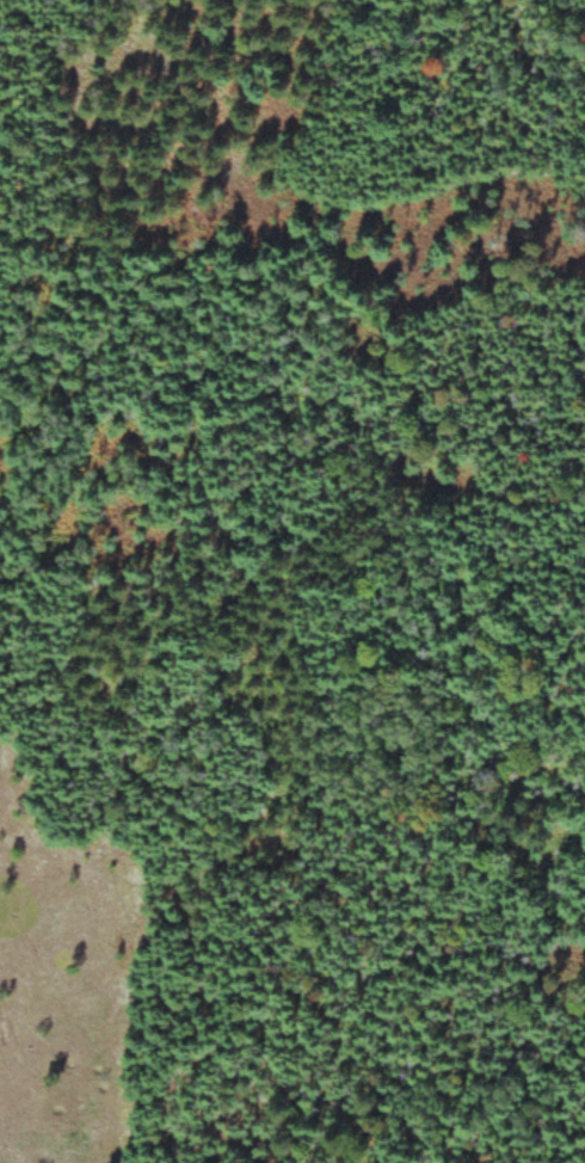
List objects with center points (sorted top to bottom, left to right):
park: (292, 581)

